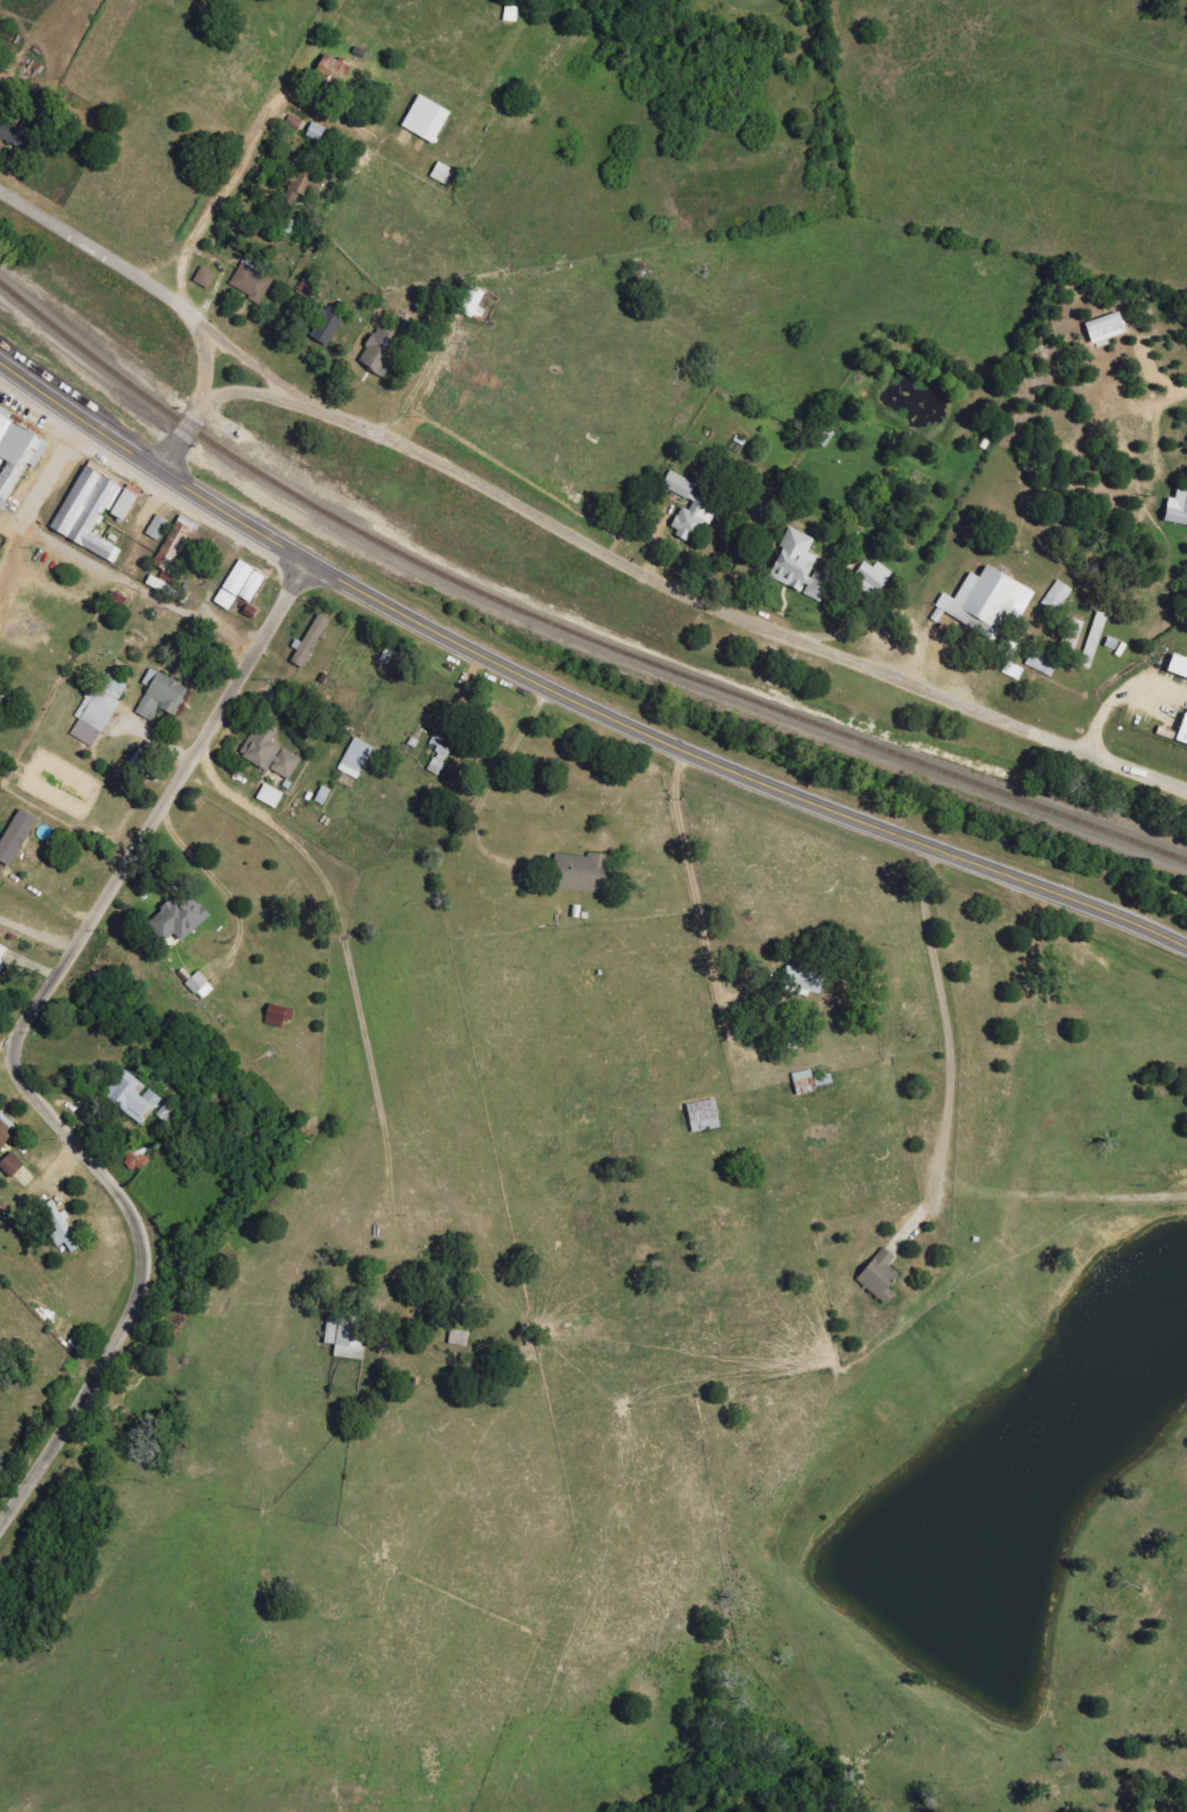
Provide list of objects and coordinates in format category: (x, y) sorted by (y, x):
building: (335, 70)
building: (427, 119)
building: (20, 134)
building: (443, 174)
building: (305, 185)
building: (205, 278)
road: (138, 280)
building: (251, 280)
building: (474, 303)
building: (329, 328)
building: (380, 352)
road: (257, 371)
road: (41, 405)
road: (1003, 430)
road: (175, 445)
building: (18, 454)
building: (679, 485)
road: (37, 494)
road: (192, 499)
building: (1177, 509)
building: (94, 511)
building: (694, 520)
building: (159, 528)
road: (145, 535)
building: (174, 547)
building: (801, 566)
building: (874, 576)
building: (241, 585)
road: (133, 590)
road: (685, 592)
building: (1058, 596)
building: (988, 601)
railway: (565, 626)
building: (1096, 632)
building: (311, 640)
building: (1179, 668)
building: (162, 695)
building: (99, 709)
building: (1183, 733)
building: (271, 753)
building: (356, 758)
building: (440, 761)
road: (739, 772)
building: (271, 796)
building: (17, 837)
building: (584, 874)
road: (680, 913)
building: (180, 919)
building: (2, 955)
road: (362, 973)
building: (806, 981)
building: (201, 987)
building: (280, 1016)
road: (878, 1028)
road: (11, 1061)
building: (804, 1082)
building: (133, 1097)
building: (8, 1125)
building: (4, 1138)
building: (136, 1160)
building: (12, 1166)
building: (63, 1229)
building: (881, 1277)
building: (348, 1335)
building: (459, 1339)
road: (261, 1376)

